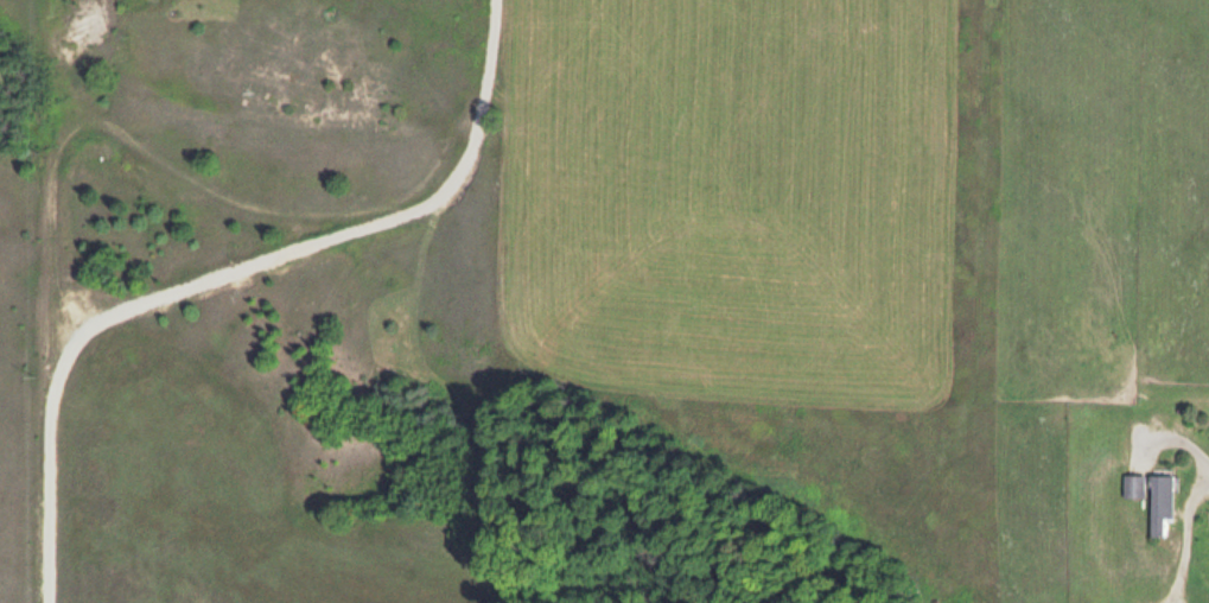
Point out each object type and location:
building: (1132, 483)
building: (1158, 503)

